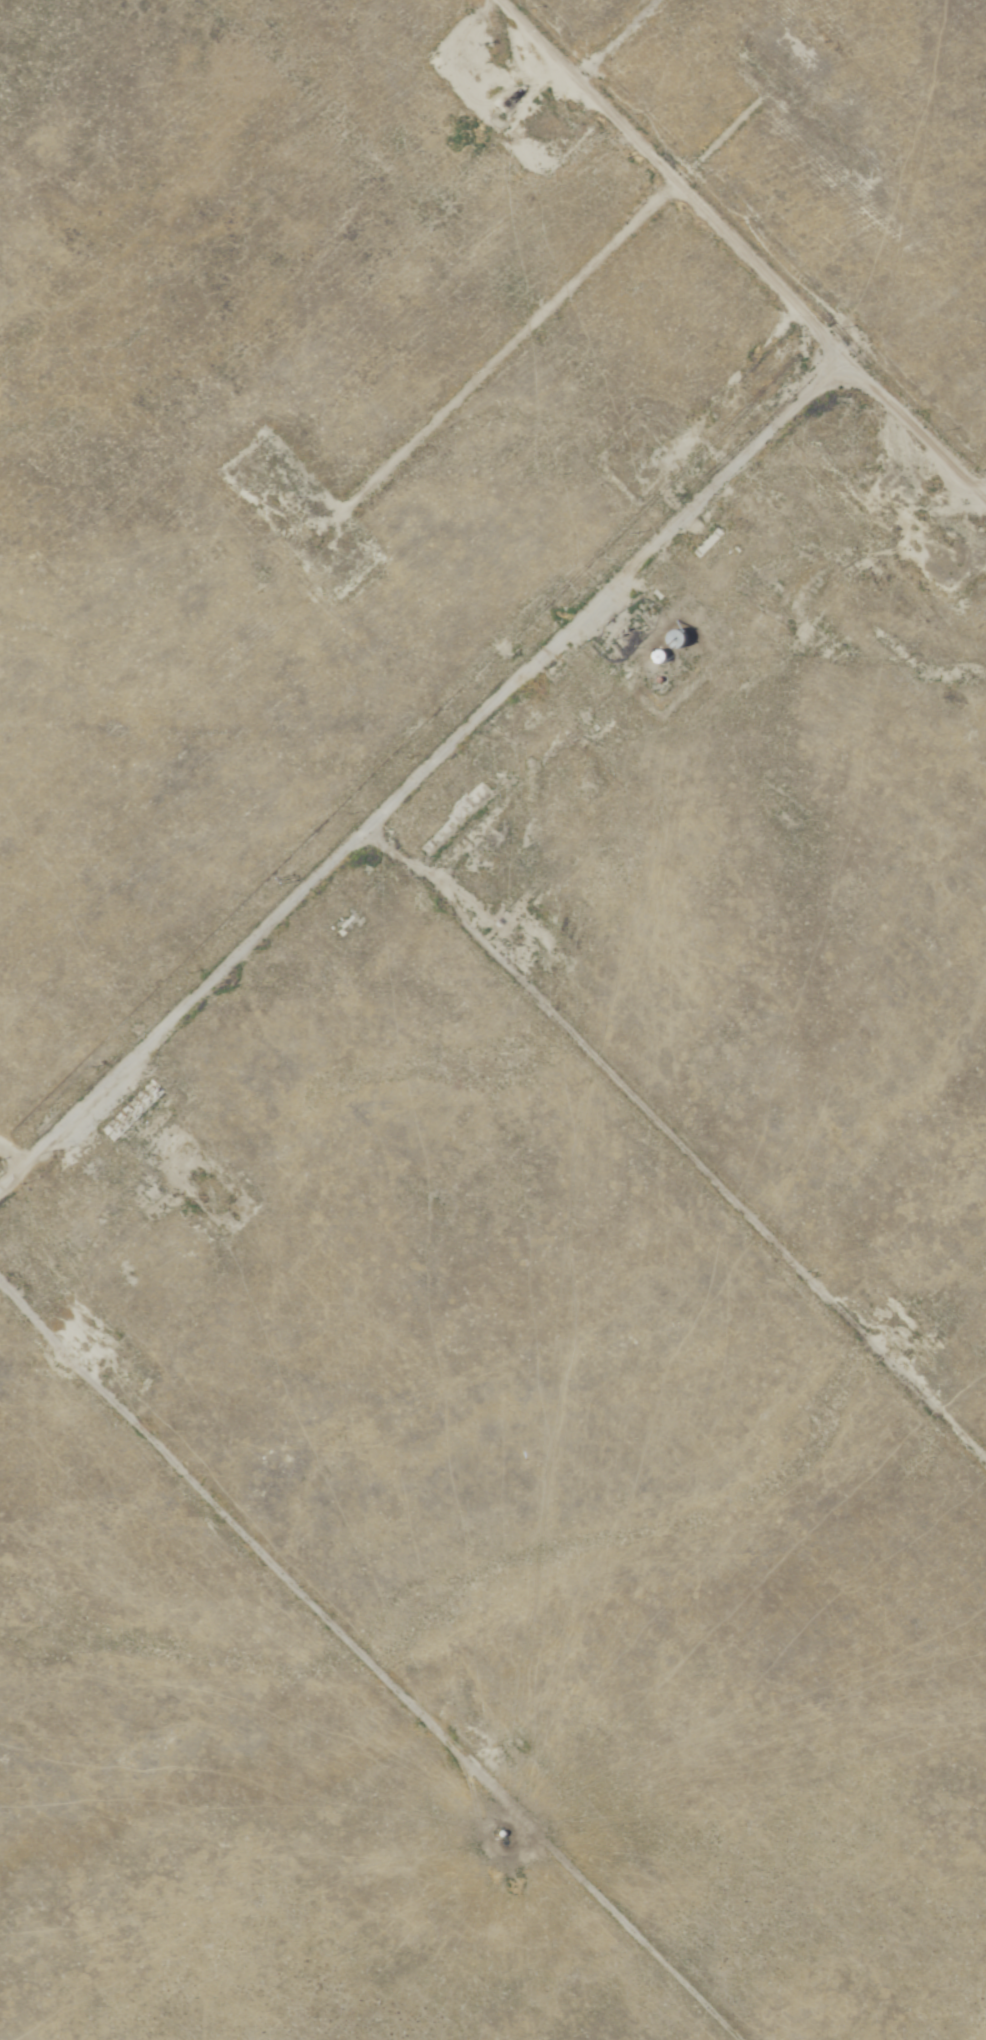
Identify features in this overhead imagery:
road: (536, 36)
road: (903, 421)
road: (734, 456)
road: (972, 486)
building: (675, 639)
road: (496, 970)
road: (367, 1662)

